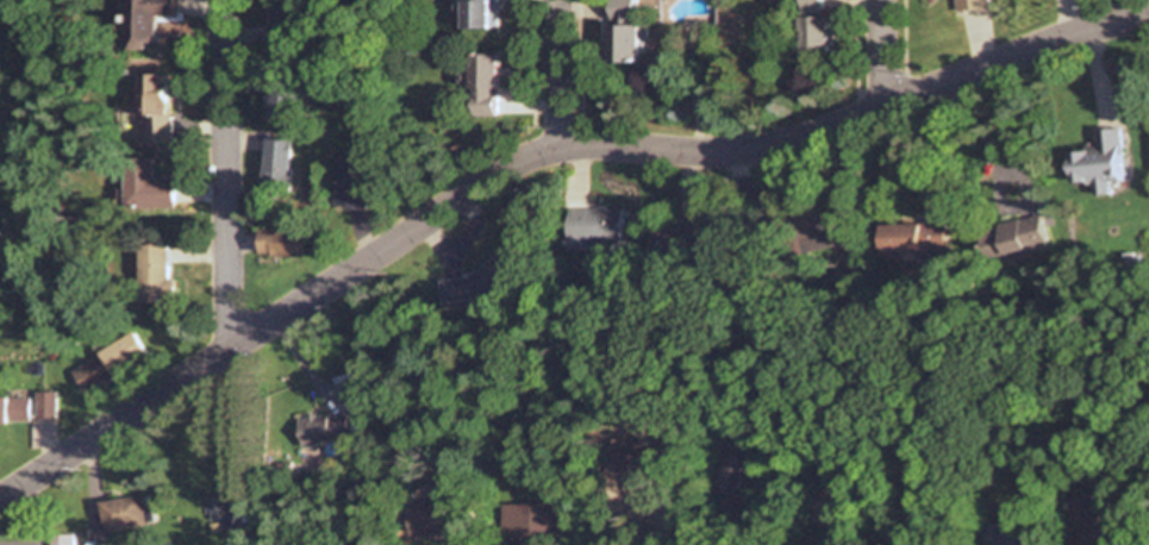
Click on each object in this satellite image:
building: (972, 5)
building: (622, 11)
building: (479, 14)
building: (145, 19)
building: (285, 19)
building: (813, 29)
building: (622, 44)
road: (882, 54)
road: (556, 73)
building: (482, 84)
building: (701, 95)
building: (281, 100)
building: (155, 108)
road: (536, 154)
building: (1099, 162)
building: (277, 165)
road: (224, 175)
building: (352, 183)
building: (146, 184)
building: (604, 225)
building: (691, 233)
building: (912, 237)
building: (1016, 237)
building: (280, 243)
building: (154, 275)
building: (107, 363)
building: (44, 405)
building: (14, 409)
building: (325, 430)
building: (631, 458)
building: (737, 470)
building: (830, 503)
building: (224, 512)
building: (120, 514)
building: (1092, 518)
building: (535, 519)
building: (430, 520)
building: (1011, 534)

